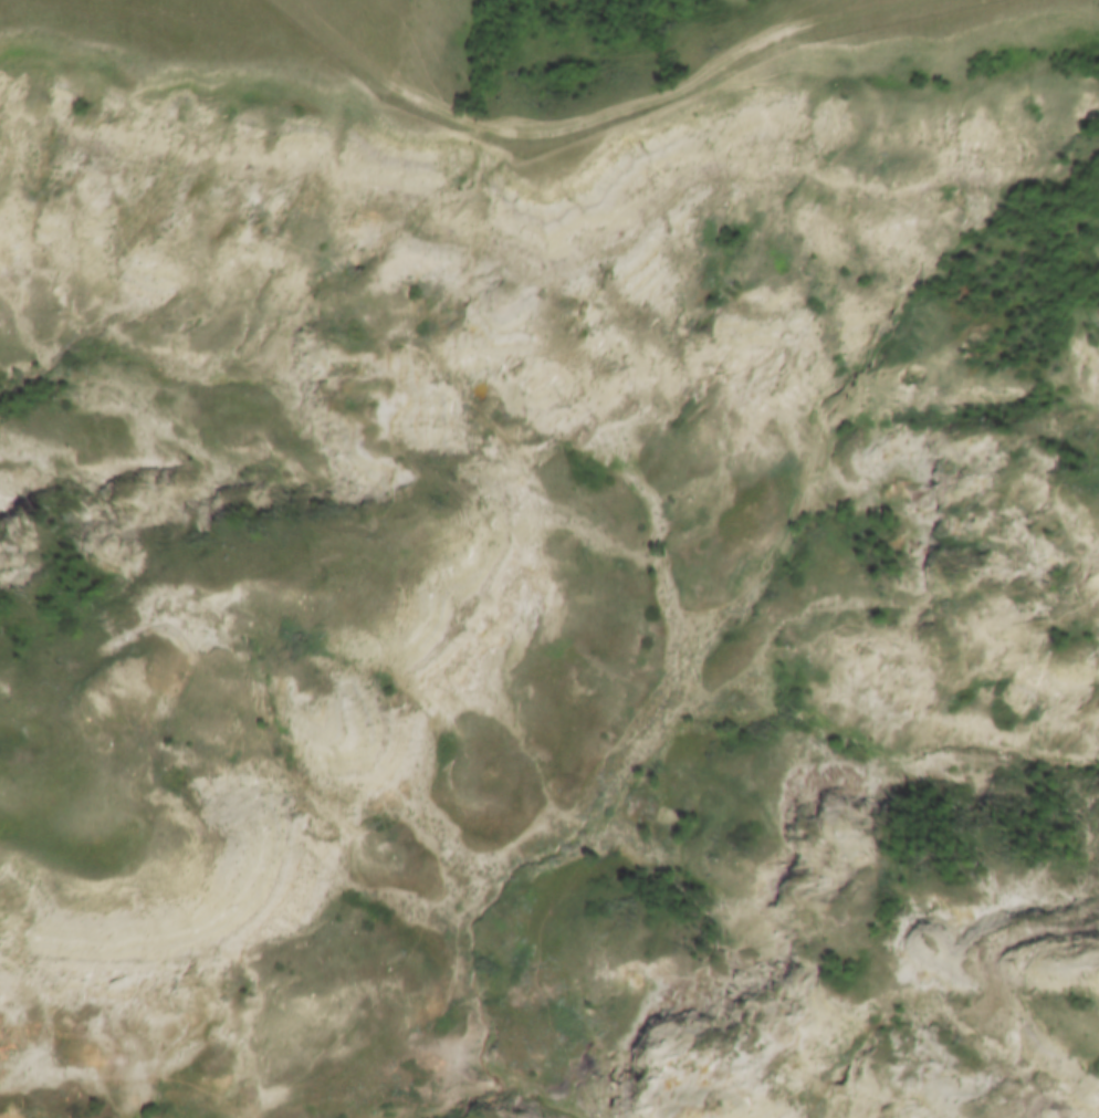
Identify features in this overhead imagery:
road: (603, 126)

